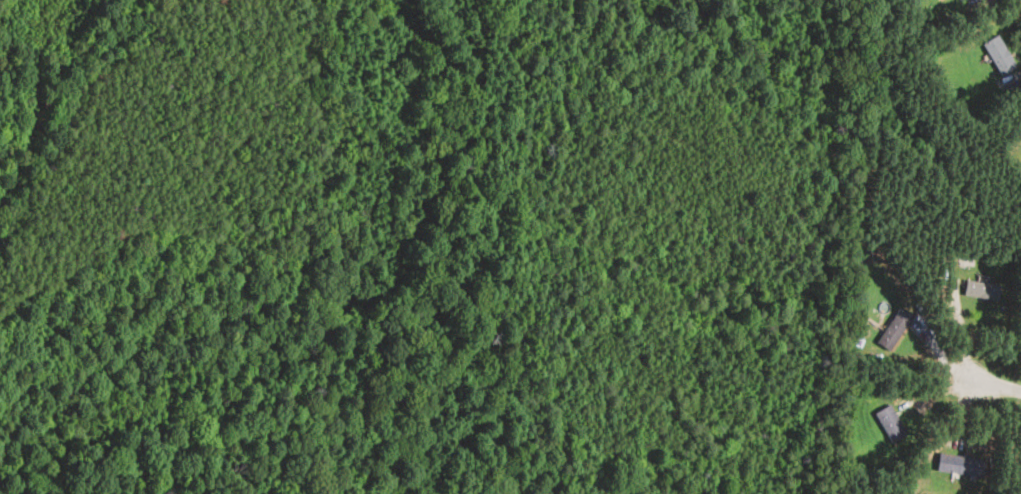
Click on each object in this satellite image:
building: (959, 0)
road: (978, 3)
building: (999, 55)
road: (1020, 74)
building: (981, 290)
building: (894, 330)
road: (959, 335)
road: (944, 354)
road: (1000, 388)
road: (940, 391)
road: (966, 404)
building: (890, 424)
building: (961, 466)

